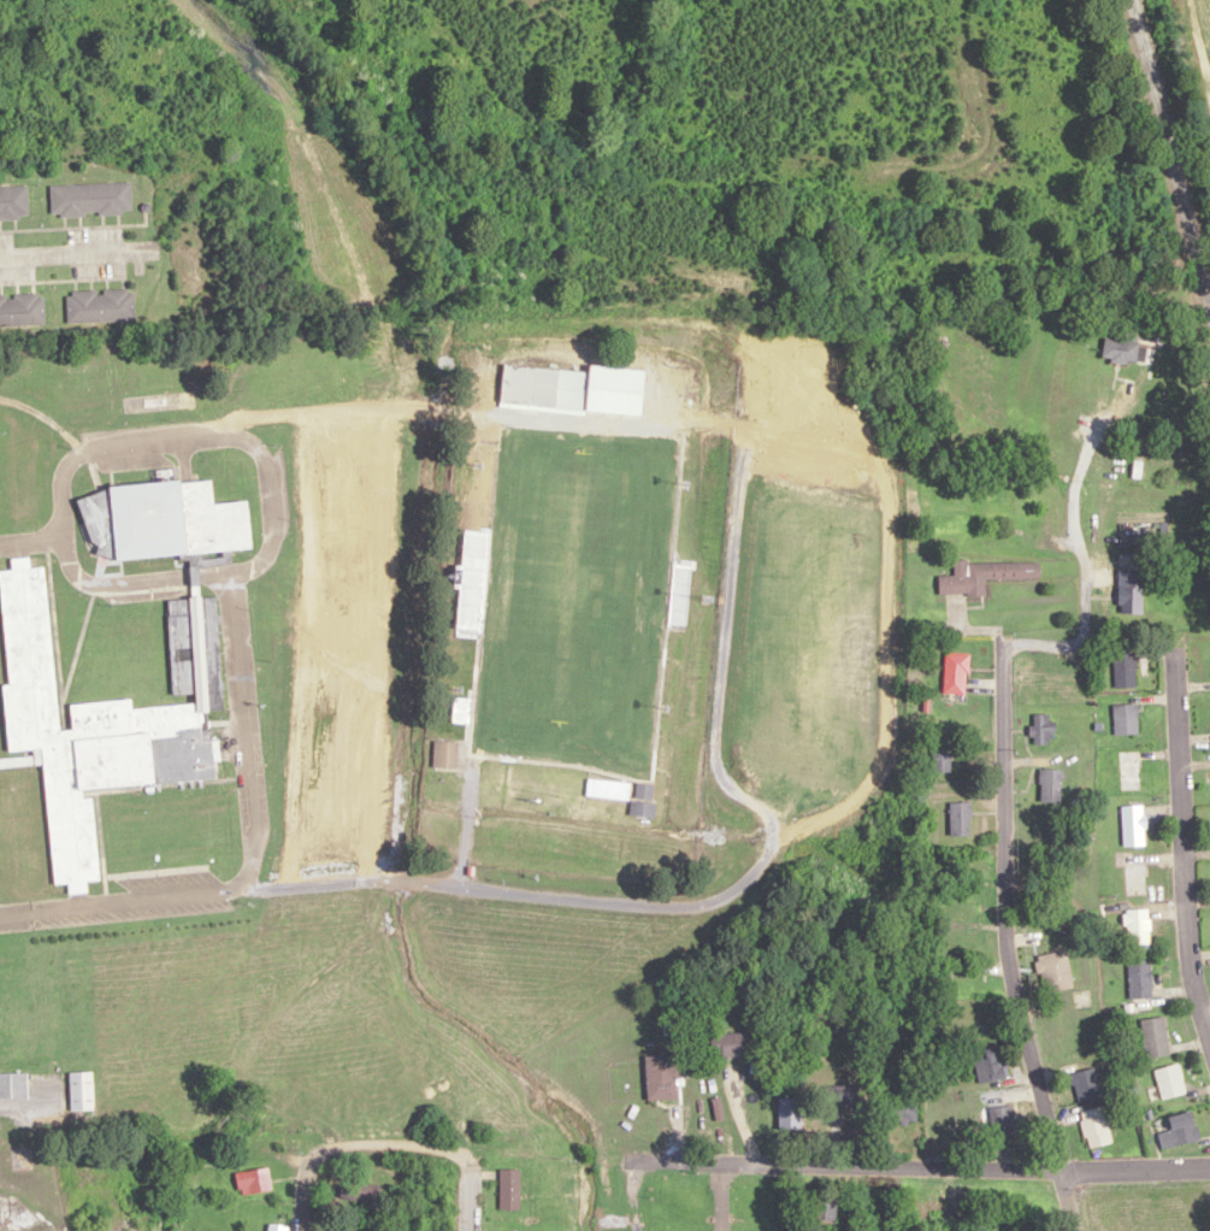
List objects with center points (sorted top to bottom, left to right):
railway: (1169, 159)
building: (90, 199)
building: (13, 202)
road: (64, 258)
building: (100, 305)
building: (22, 310)
building: (1120, 351)
building: (529, 385)
road: (264, 484)
building: (169, 520)
road: (30, 538)
road: (1074, 542)
building: (984, 573)
building: (473, 582)
building: (1131, 590)
building: (679, 593)
building: (1123, 666)
building: (955, 671)
building: (102, 718)
building: (1125, 718)
building: (1041, 728)
building: (444, 754)
building: (940, 758)
building: (1129, 770)
building: (1049, 784)
building: (643, 797)
building: (960, 818)
building: (1133, 824)
road: (252, 848)
road: (1181, 848)
building: (1134, 874)
building: (1138, 927)
road: (1007, 942)
building: (1053, 970)
building: (1139, 978)
building: (1155, 1036)
building: (728, 1043)
building: (990, 1064)
building: (663, 1074)
building: (1169, 1080)
building: (13, 1084)
building: (1085, 1084)
building: (81, 1090)
building: (844, 1094)
building: (905, 1111)
building: (786, 1112)
building: (999, 1119)
building: (1094, 1126)
building: (1179, 1130)
road: (927, 1167)
building: (253, 1180)
building: (509, 1188)
building: (361, 1192)
road: (303, 1197)
road: (468, 1200)
building: (822, 1212)
building: (0, 1224)
building: (278, 1227)
building: (509, 1230)

